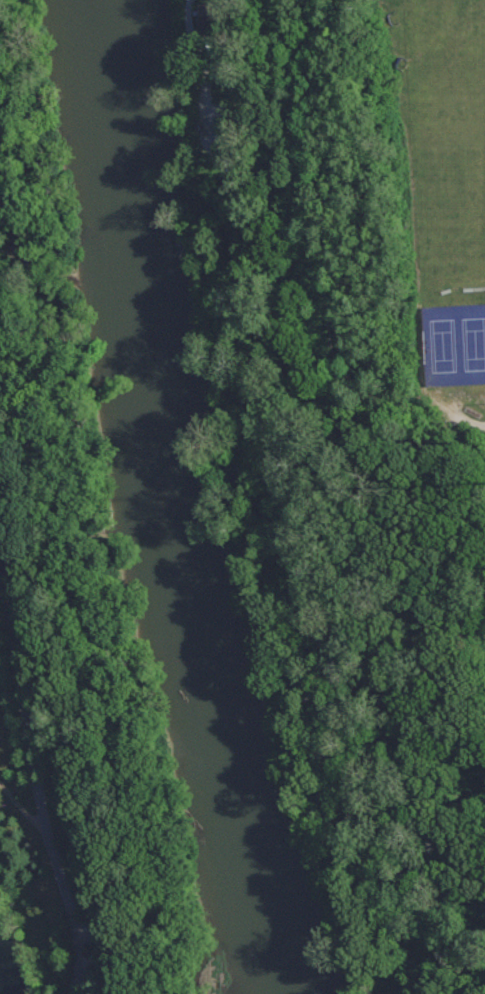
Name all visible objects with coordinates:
building: (209, 16)
road: (197, 72)
park: (455, 346)
road: (465, 418)
road: (269, 495)
river: (161, 503)
road: (36, 772)

